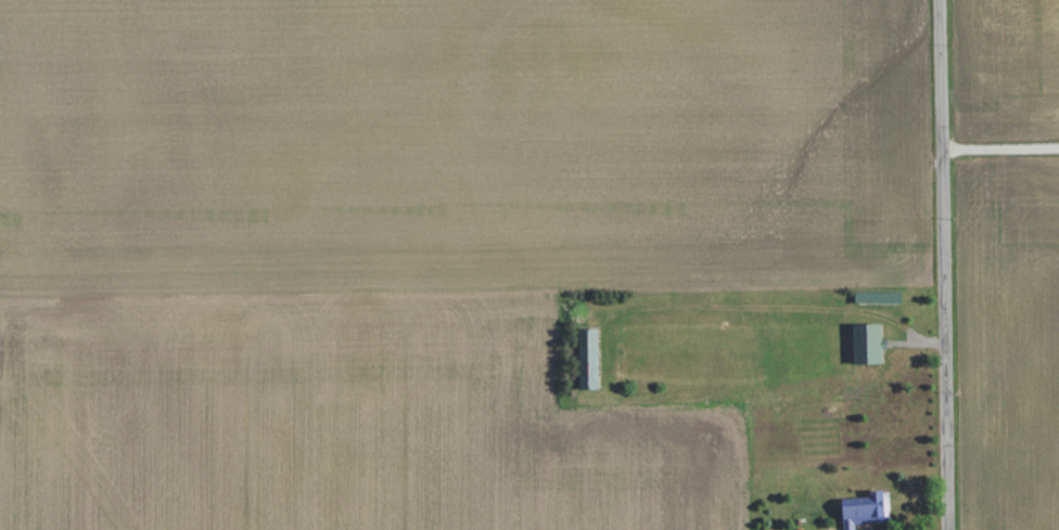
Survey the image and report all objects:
road: (946, 264)
building: (866, 344)
building: (586, 359)
building: (863, 509)

